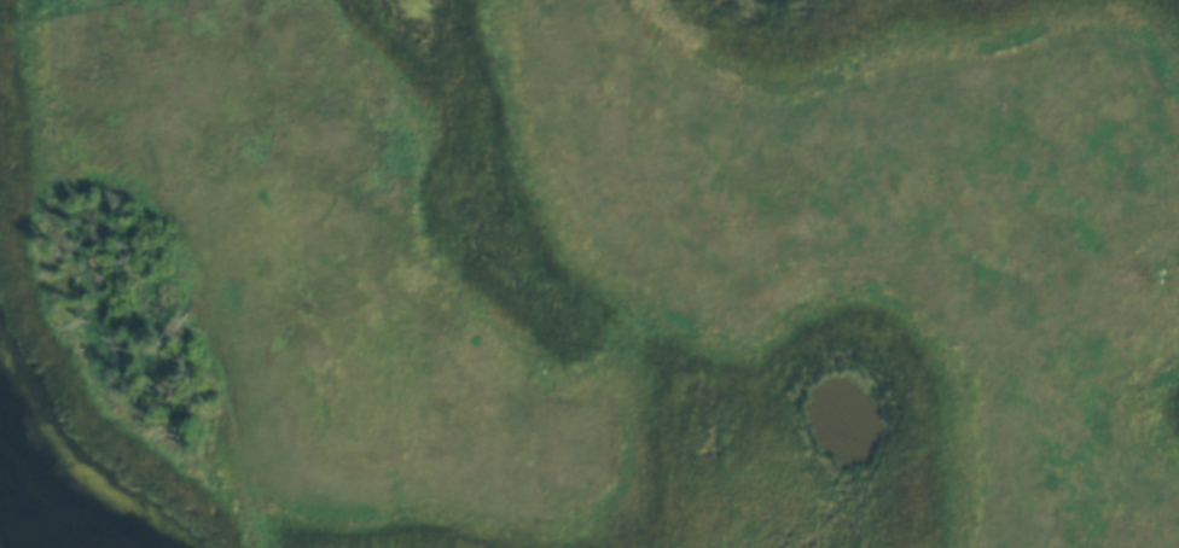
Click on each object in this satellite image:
road: (236, 344)

